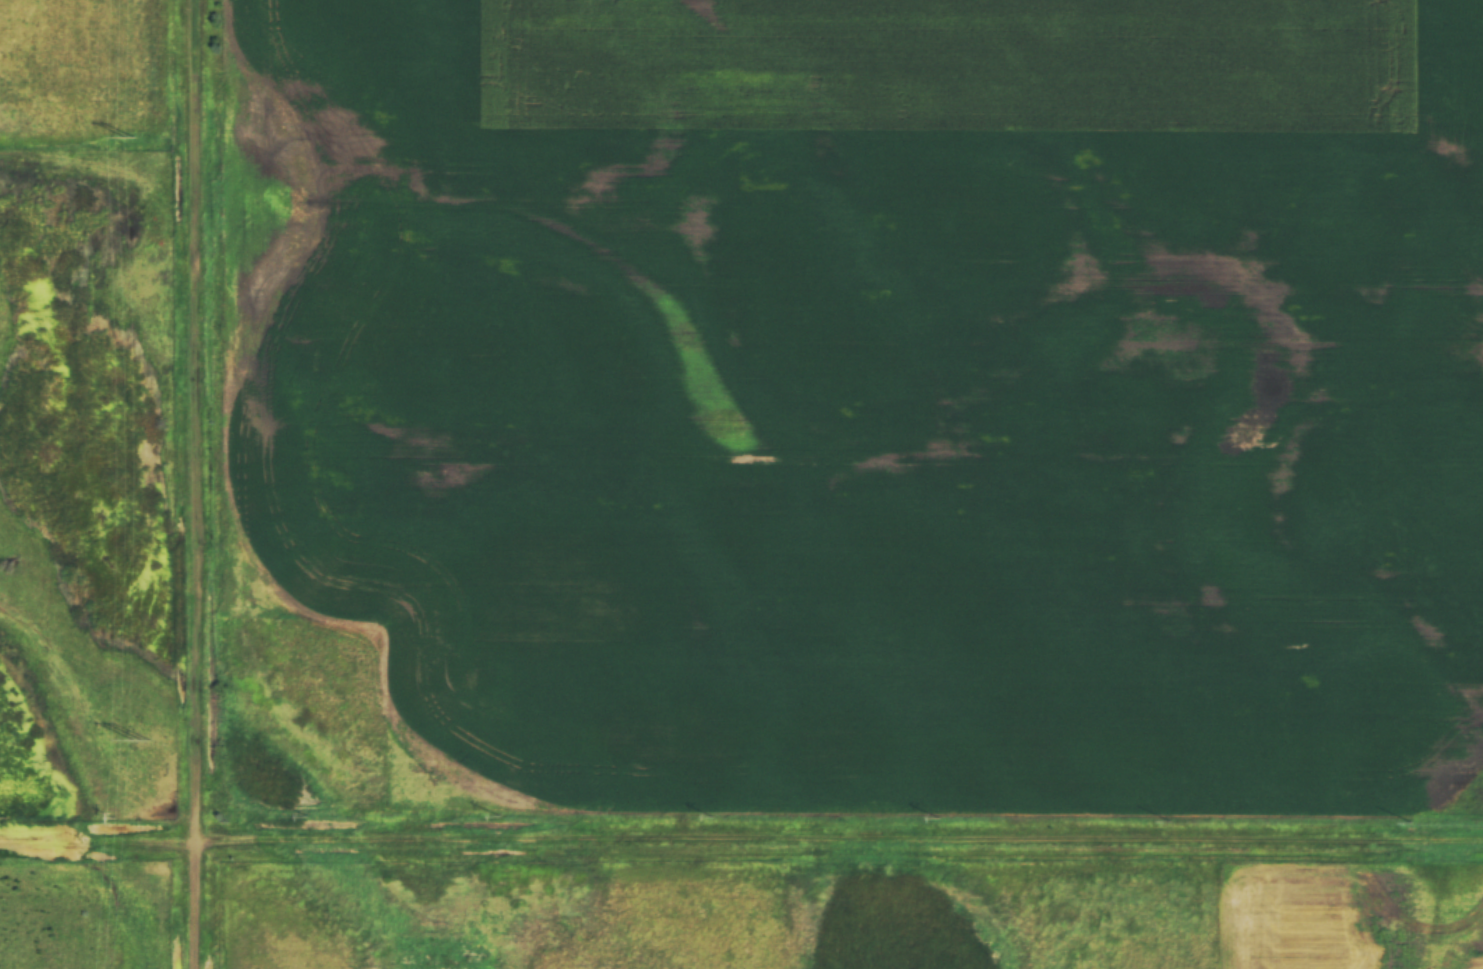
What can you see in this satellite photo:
power tower: (130, 137)
road: (201, 484)
power tower: (141, 741)
road: (842, 835)
road: (100, 841)

